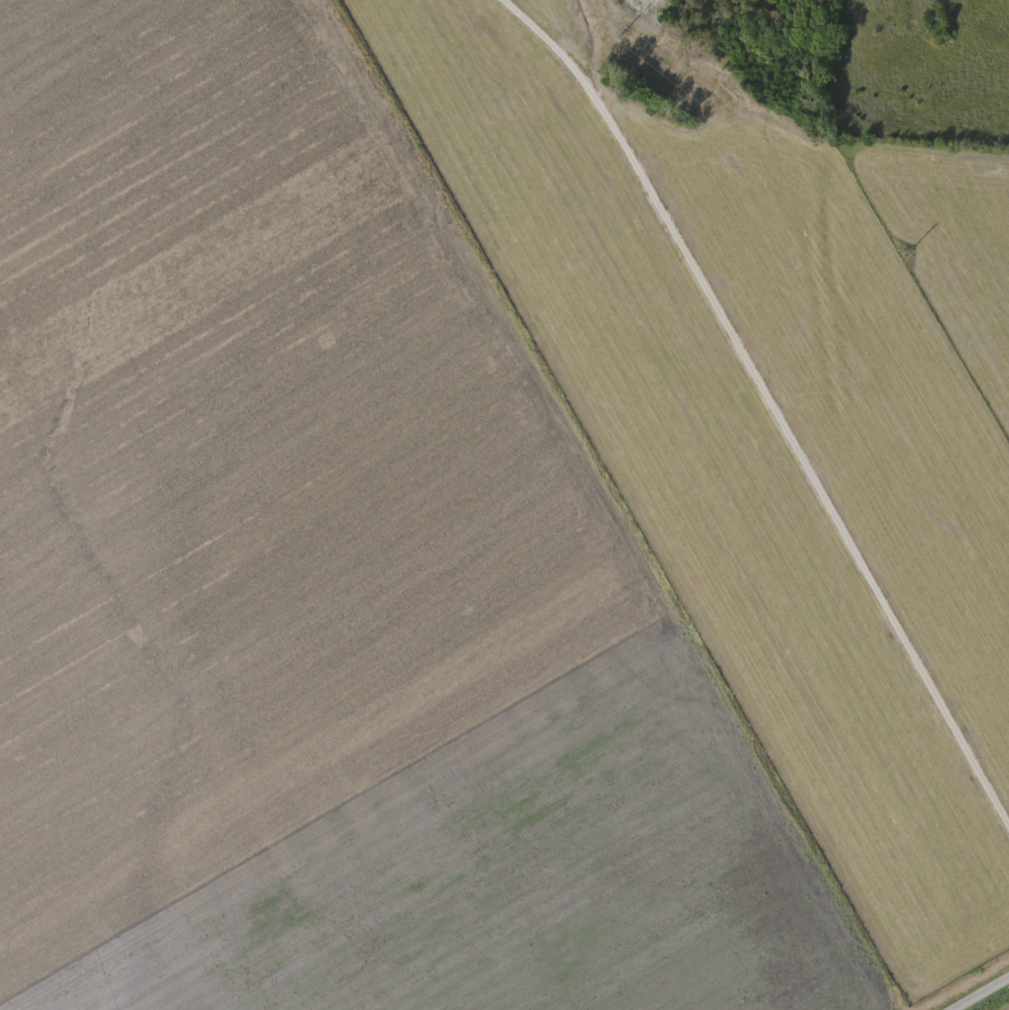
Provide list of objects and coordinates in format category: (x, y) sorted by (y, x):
road: (772, 400)
road: (982, 995)

